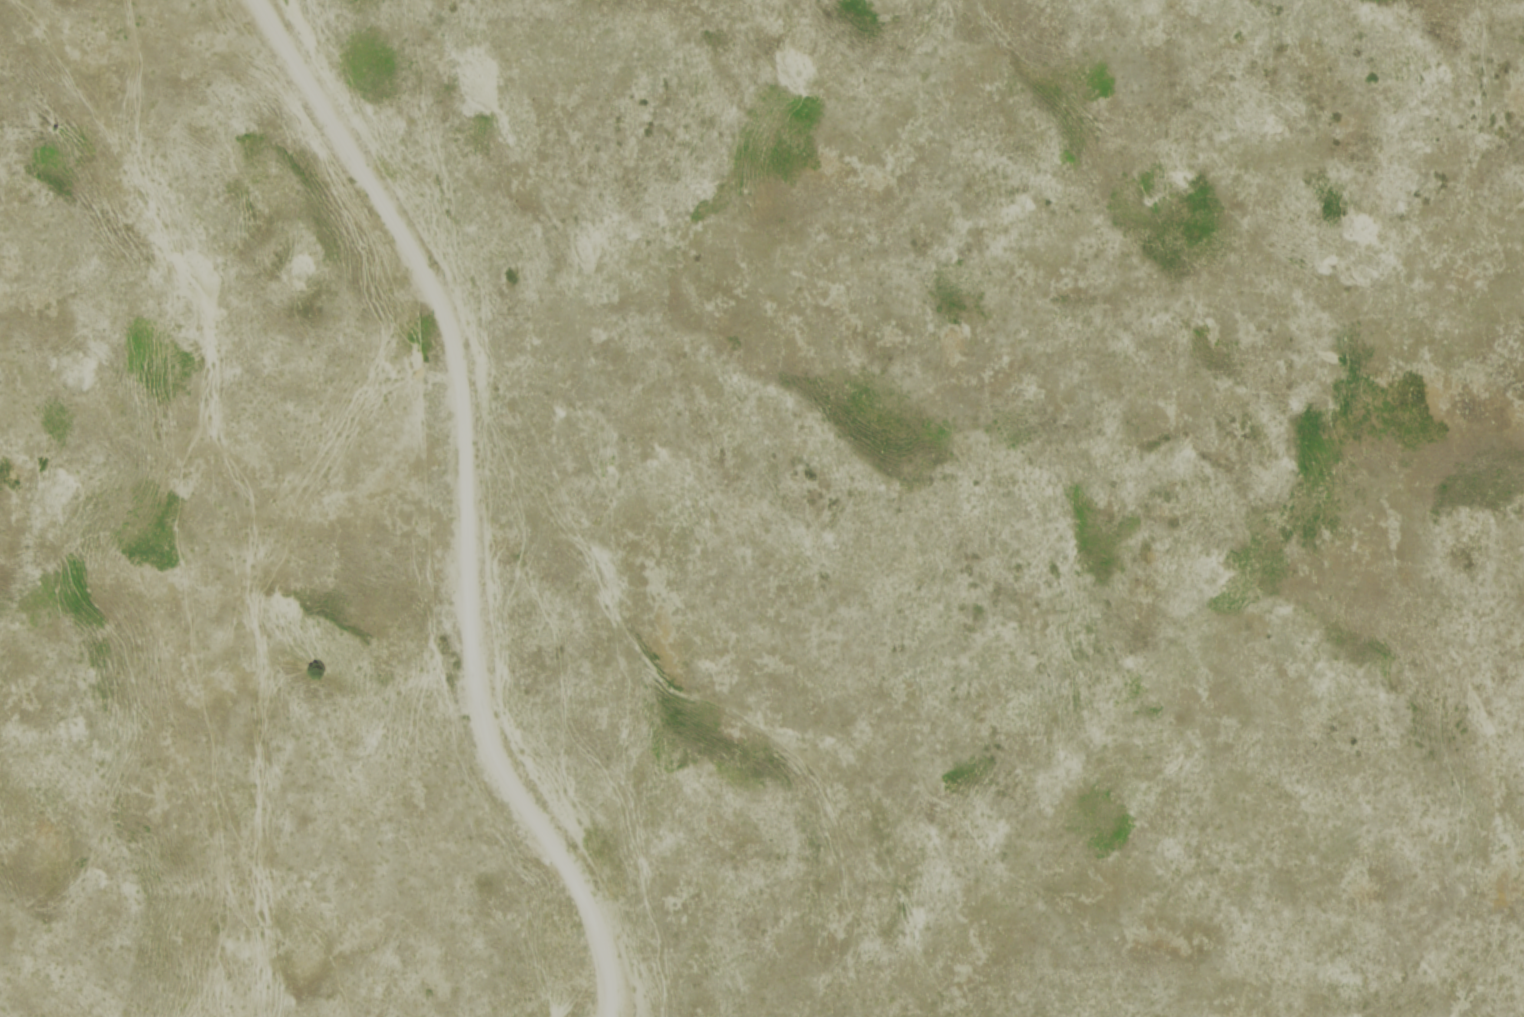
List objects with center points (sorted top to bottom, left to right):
road: (464, 498)

